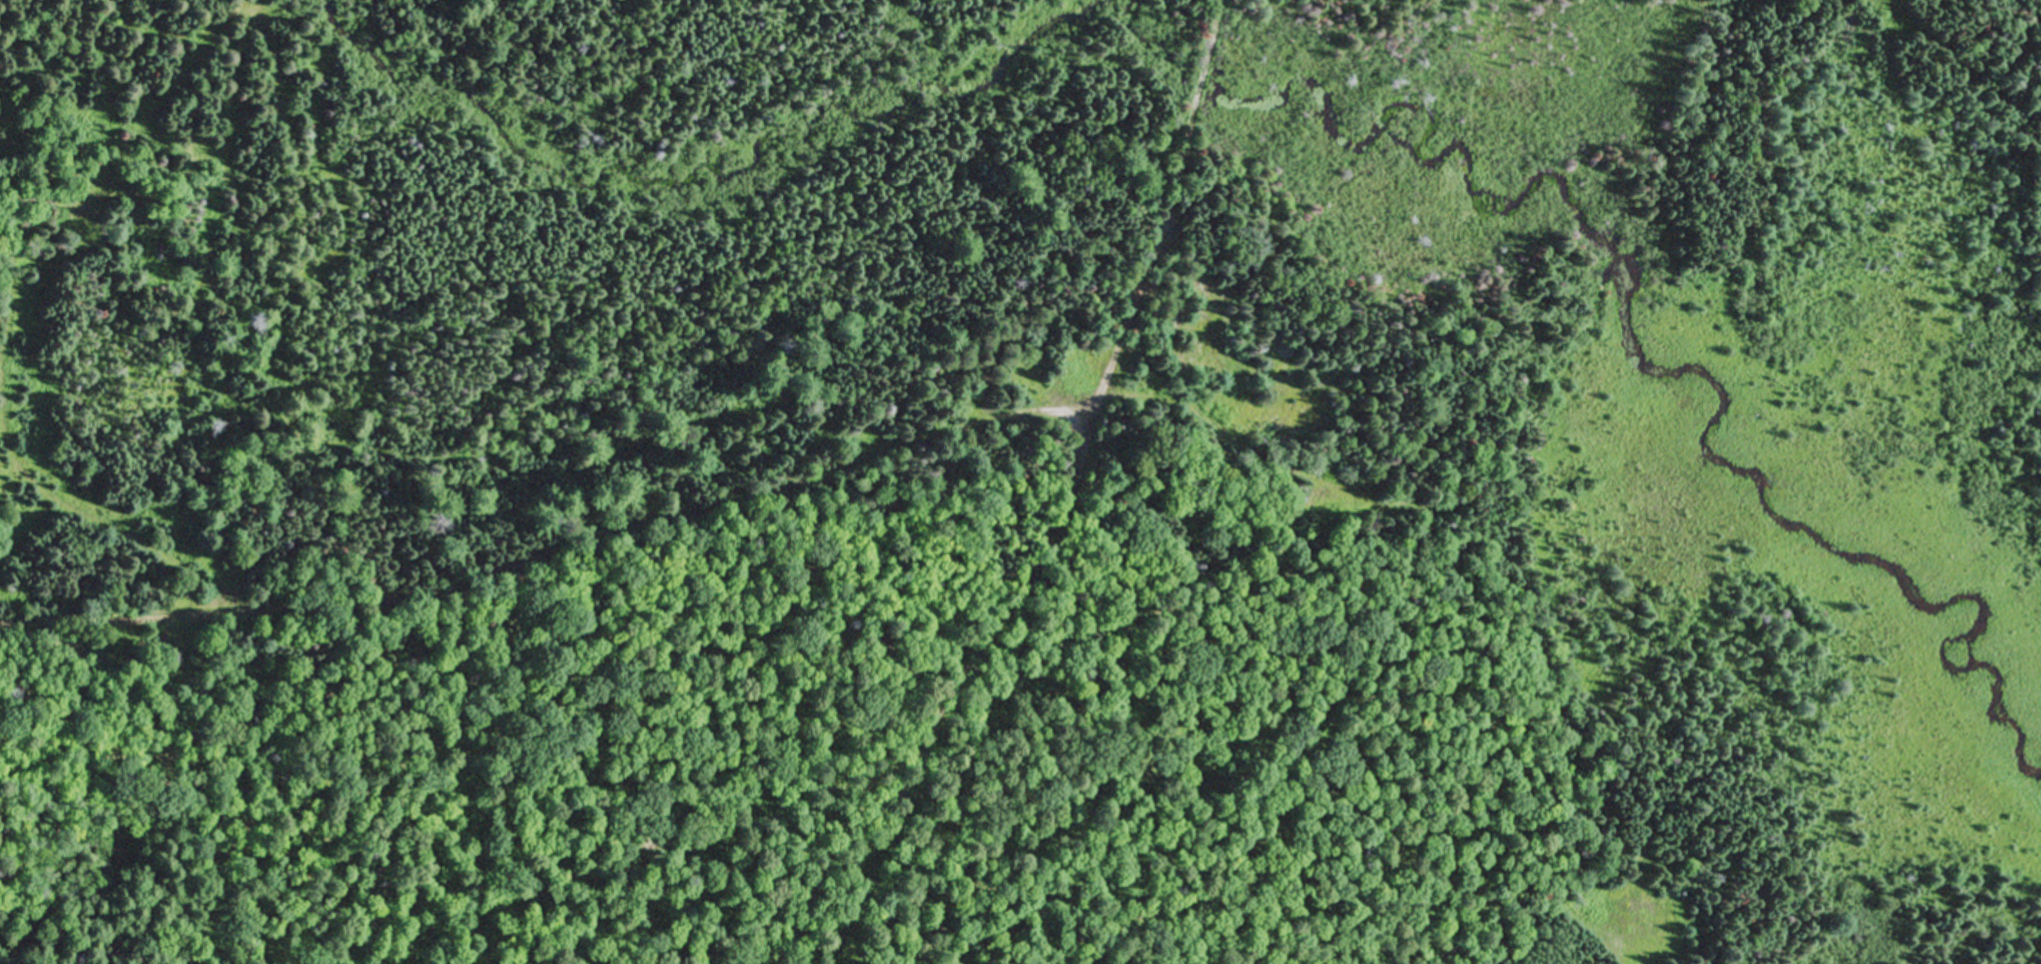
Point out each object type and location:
road: (1043, 535)

